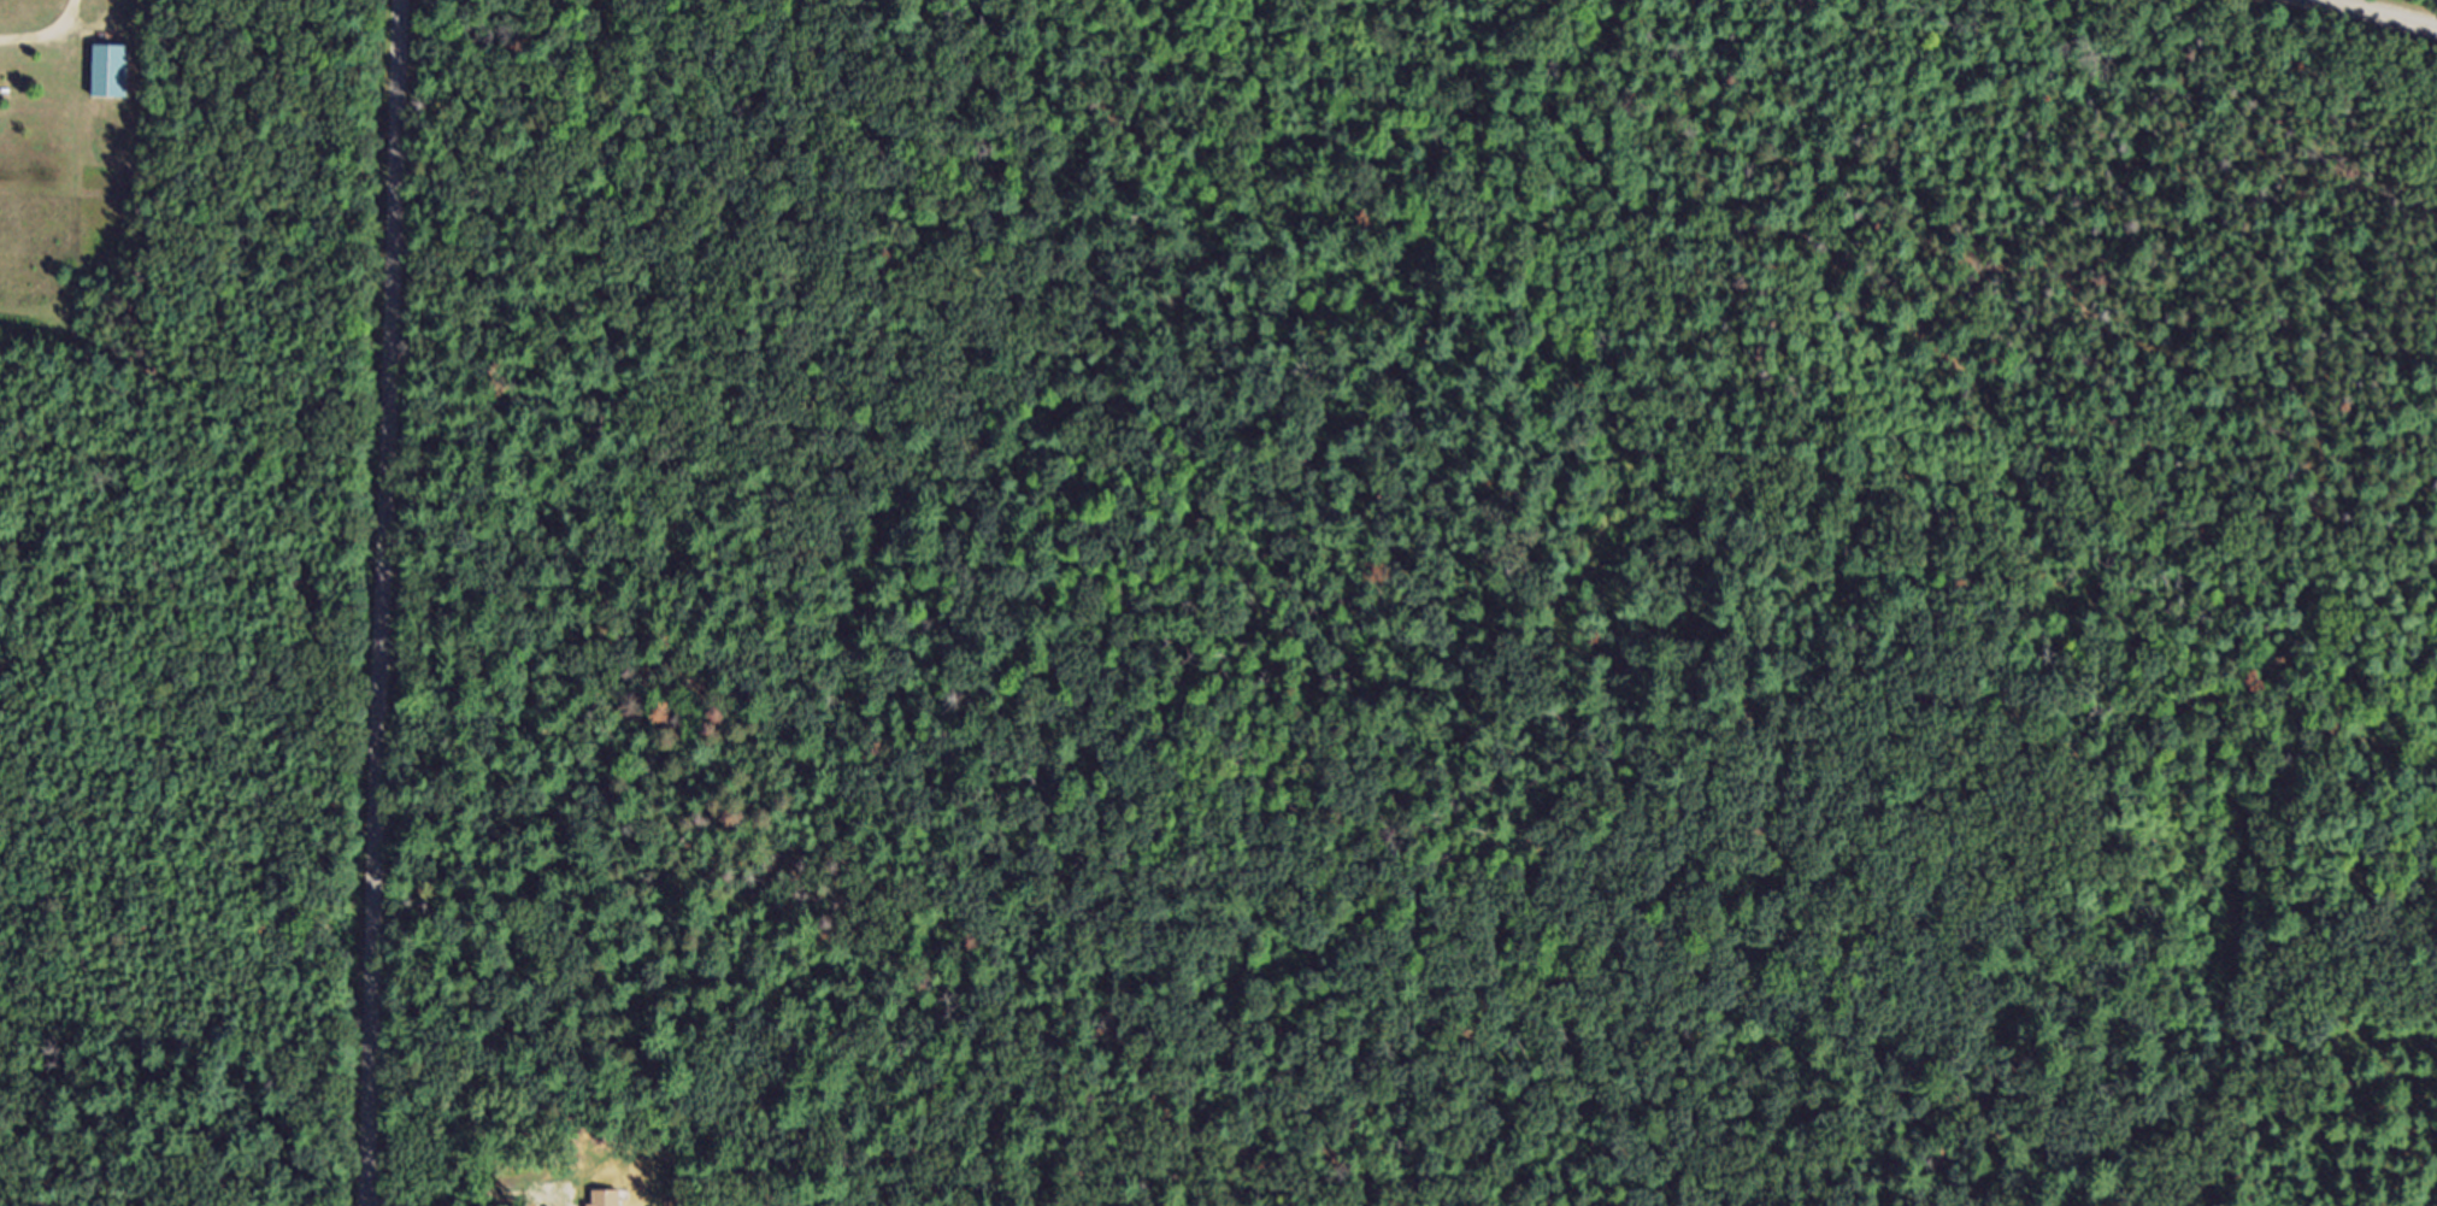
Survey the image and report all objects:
road: (2382, 12)
building: (114, 80)
road: (388, 602)

